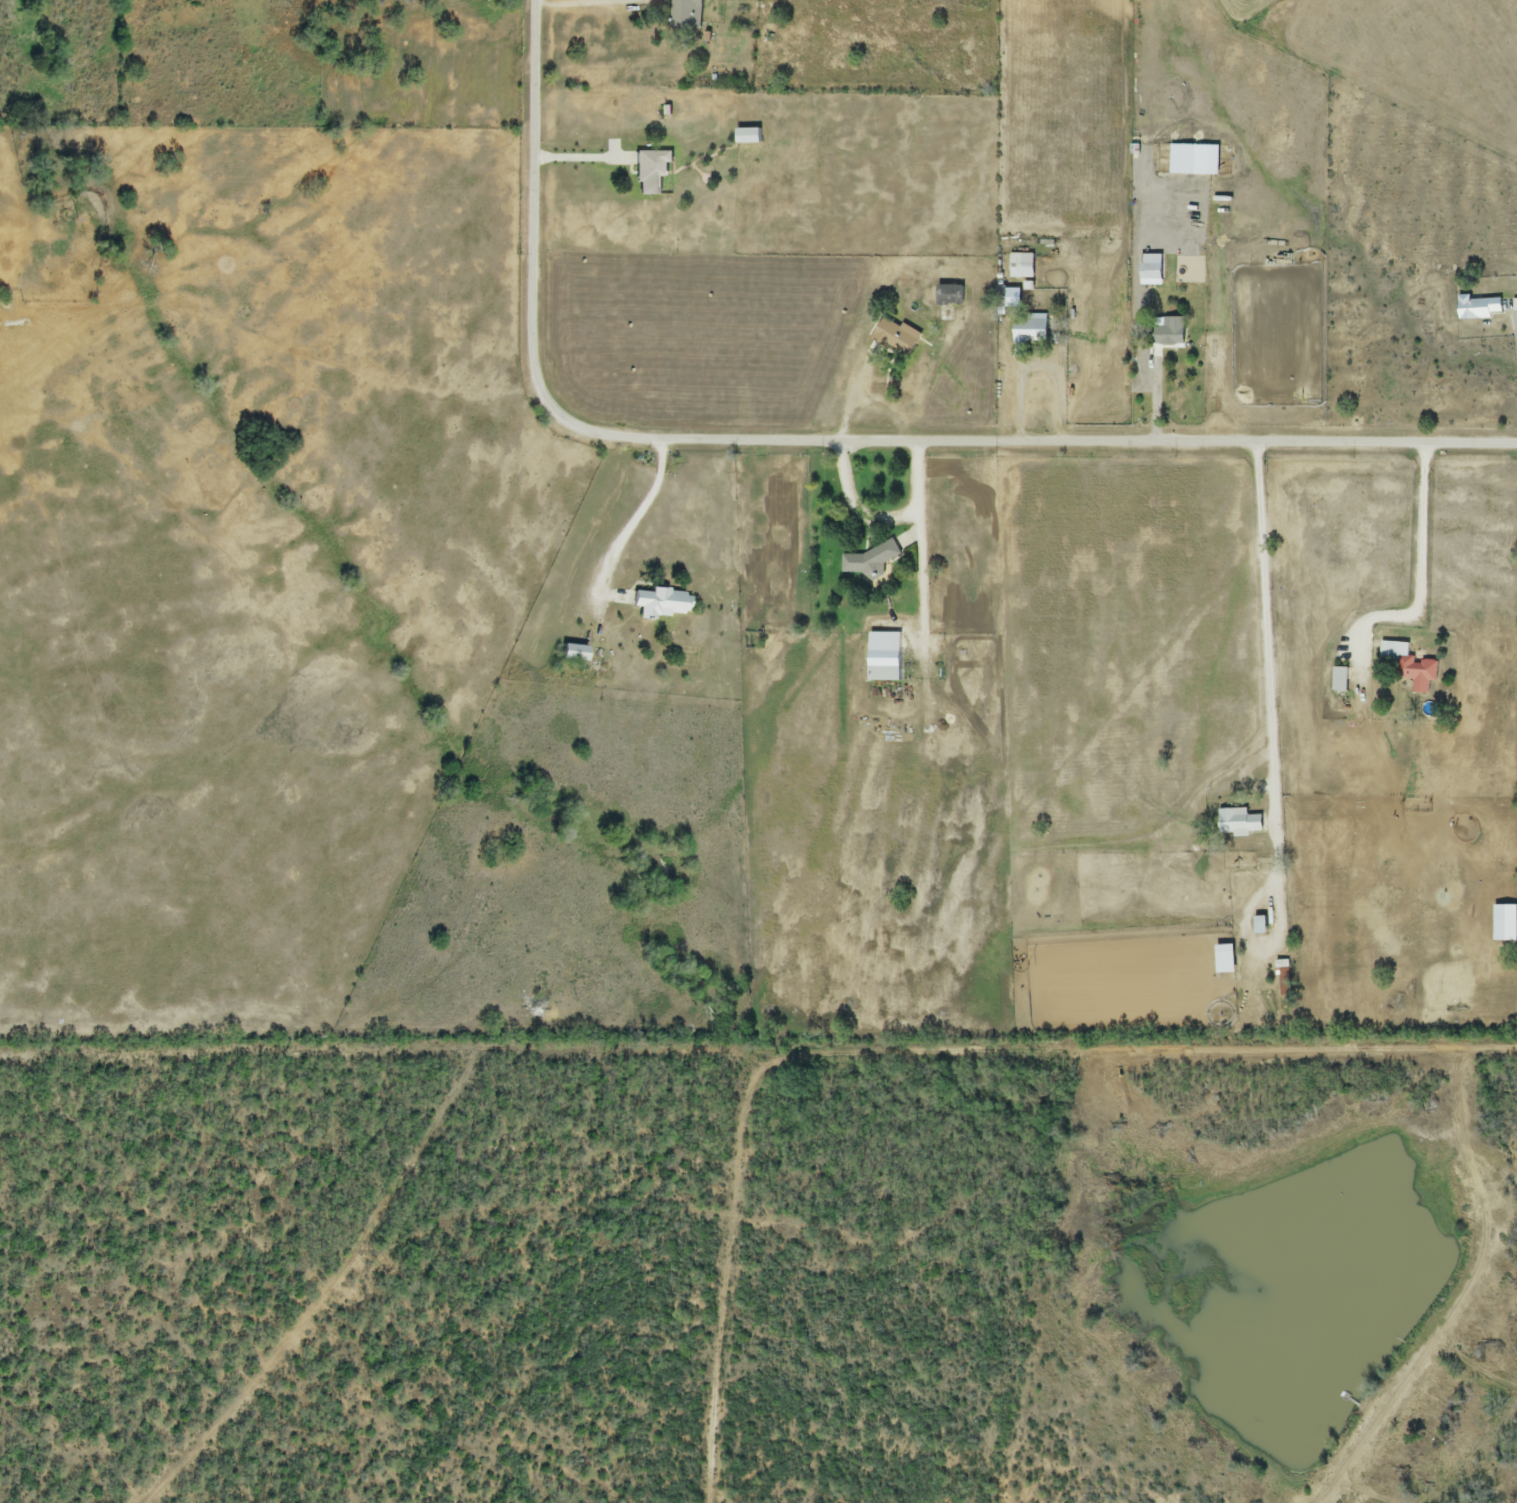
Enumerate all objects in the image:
road: (589, 3)
building: (686, 15)
building: (747, 136)
road: (583, 158)
building: (650, 171)
building: (1021, 266)
building: (1150, 271)
building: (949, 296)
building: (1477, 308)
building: (1029, 330)
building: (1171, 333)
building: (896, 337)
road: (1039, 366)
road: (1158, 399)
road: (878, 404)
road: (823, 445)
road: (858, 512)
road: (638, 520)
road: (924, 553)
road: (1421, 571)
building: (658, 604)
building: (572, 653)
building: (883, 667)
building: (1410, 671)
building: (1339, 680)
road: (1273, 748)
building: (1238, 824)

